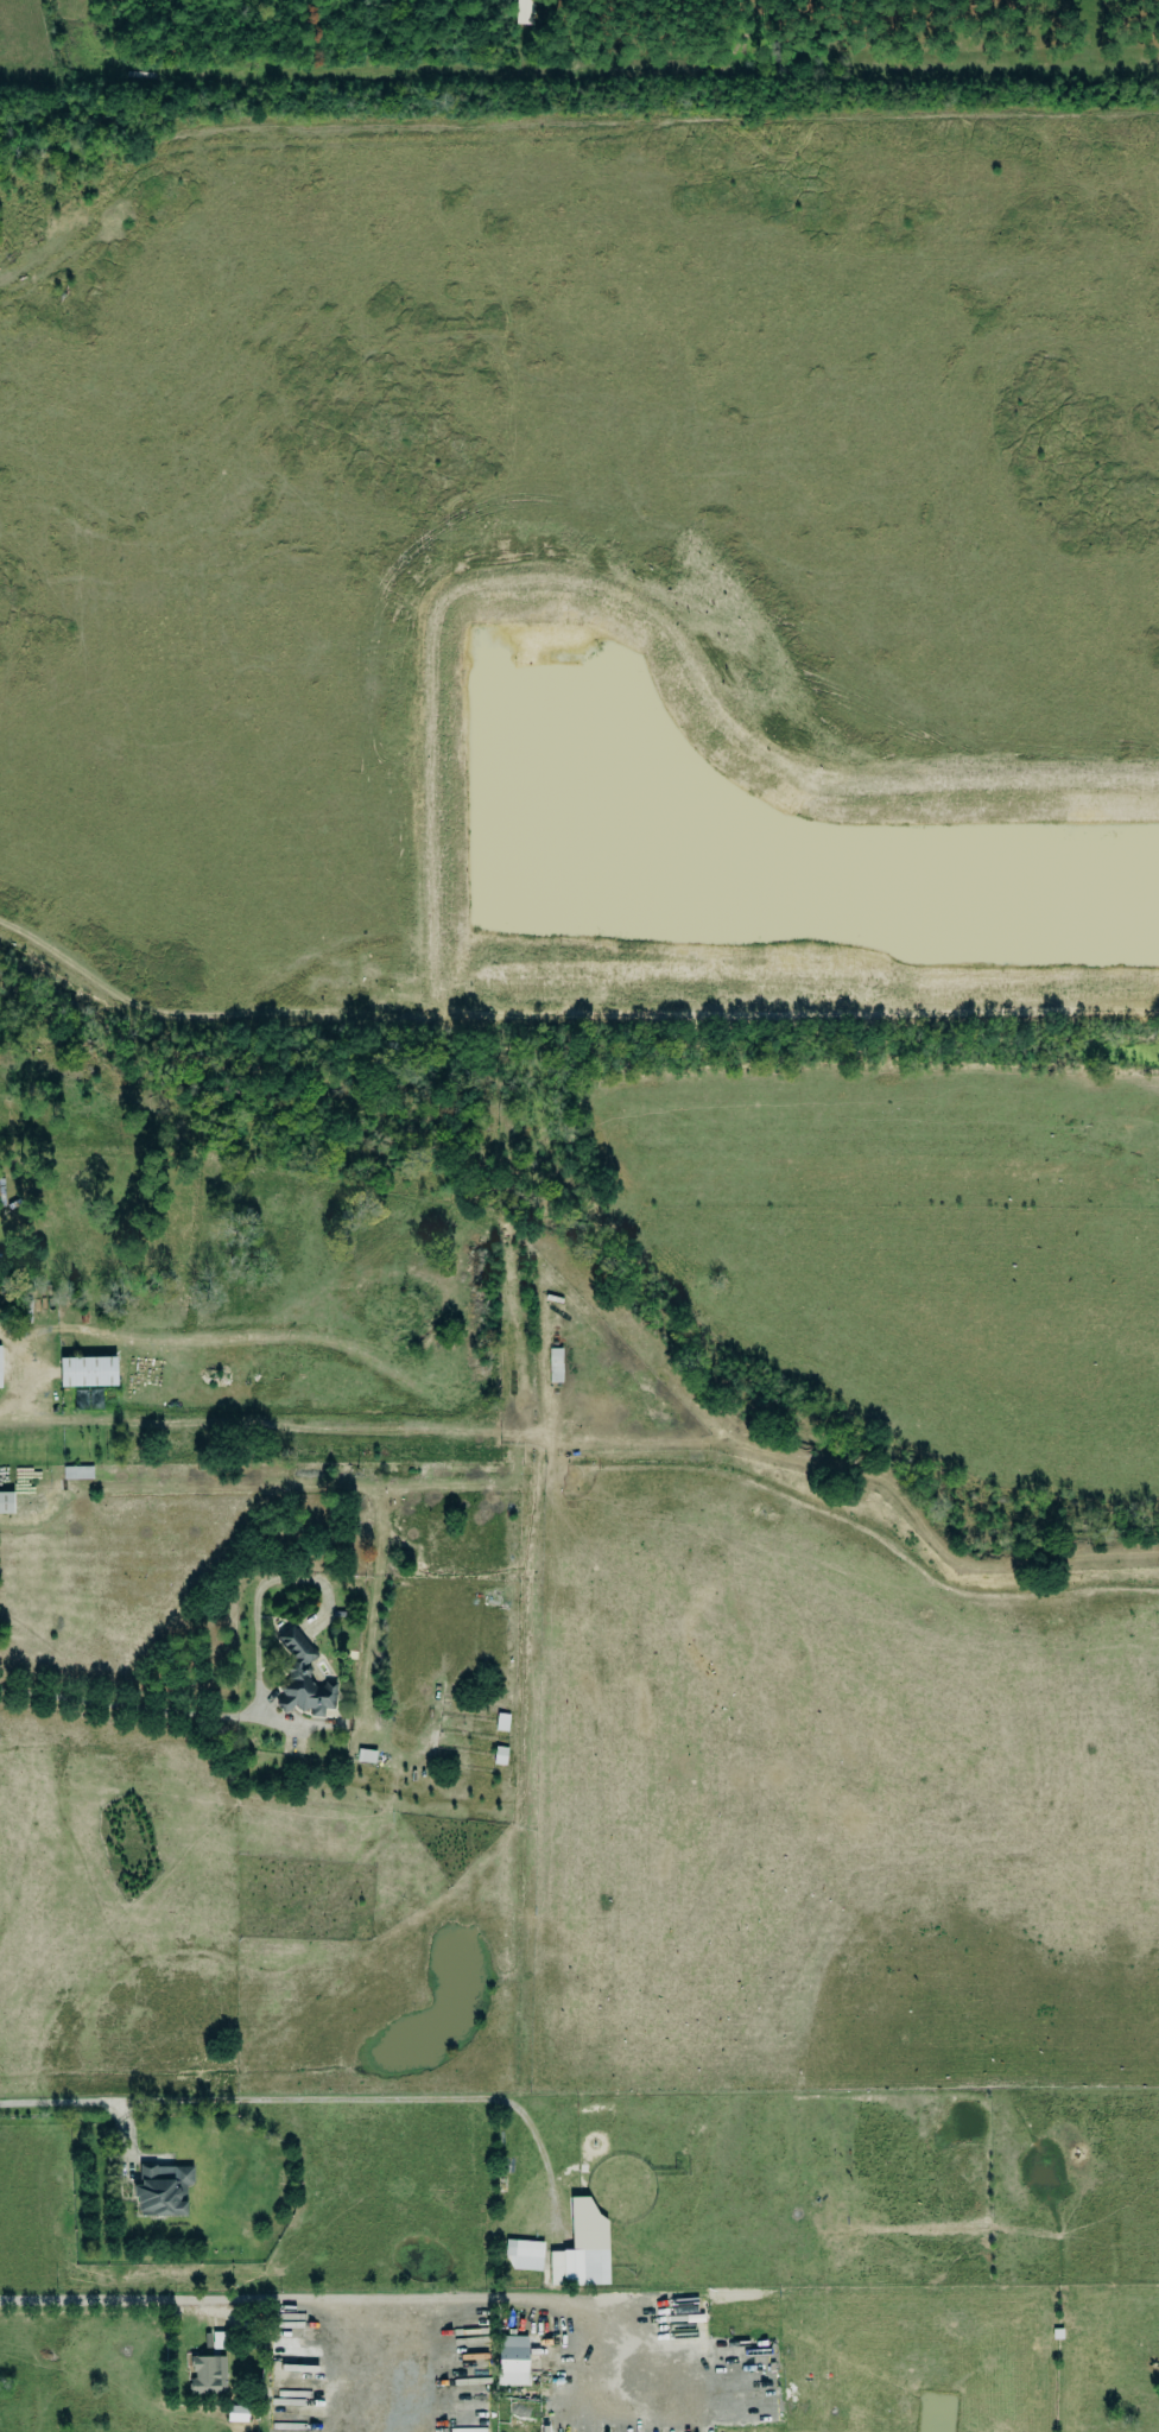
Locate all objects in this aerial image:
building: (526, 12)
road: (52, 1044)
river: (602, 1246)
building: (26, 1311)
building: (0, 1368)
building: (87, 1370)
road: (21, 1372)
building: (77, 1471)
building: (6, 1502)
building: (302, 1678)
road: (133, 1706)
building: (501, 1722)
road: (77, 2103)
building: (163, 2190)
building: (582, 2248)
building: (522, 2255)
road: (99, 2300)
building: (512, 2360)
building: (207, 2375)
building: (236, 2413)

